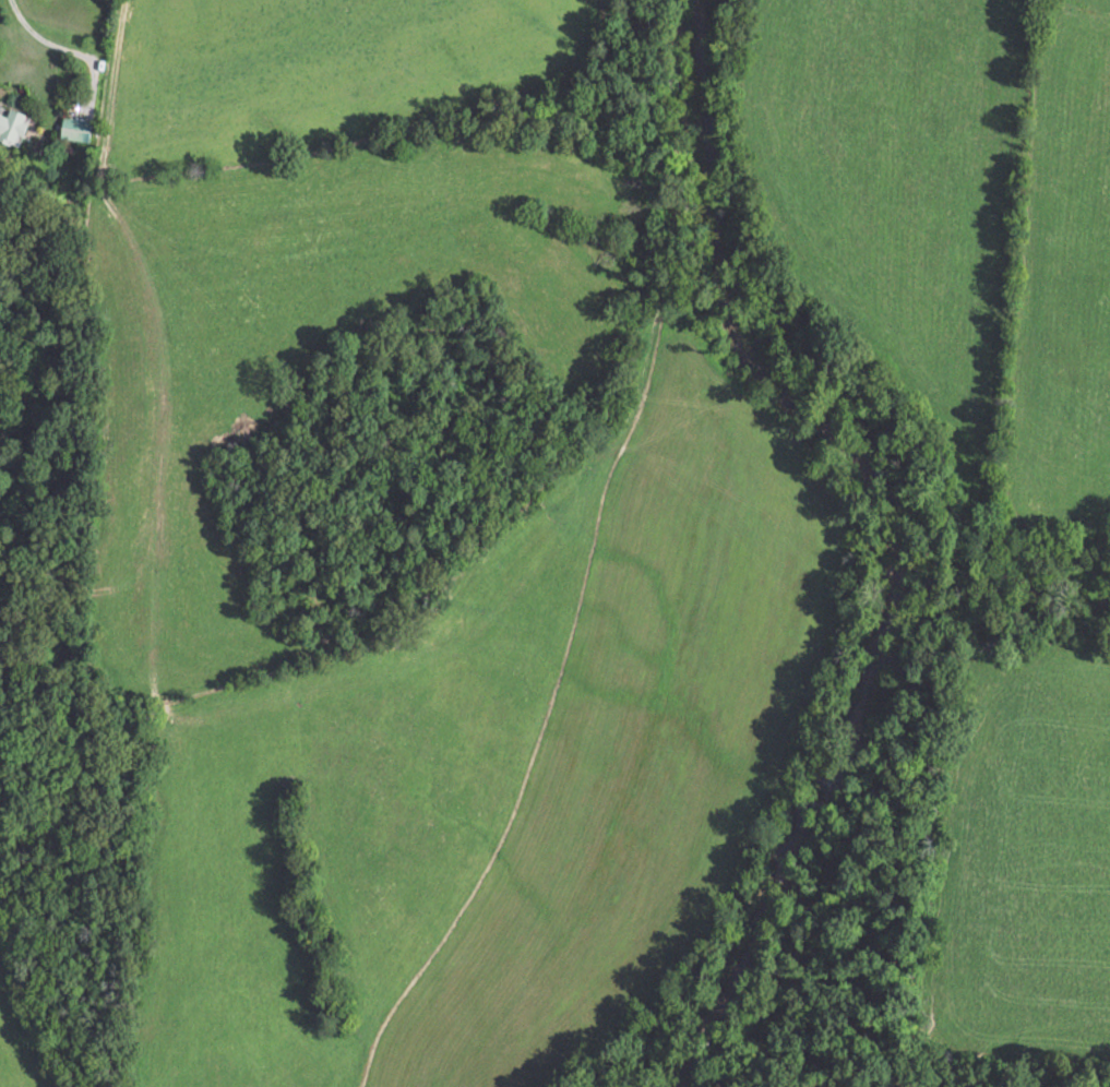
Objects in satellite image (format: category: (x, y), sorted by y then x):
building: (13, 126)
building: (72, 129)

